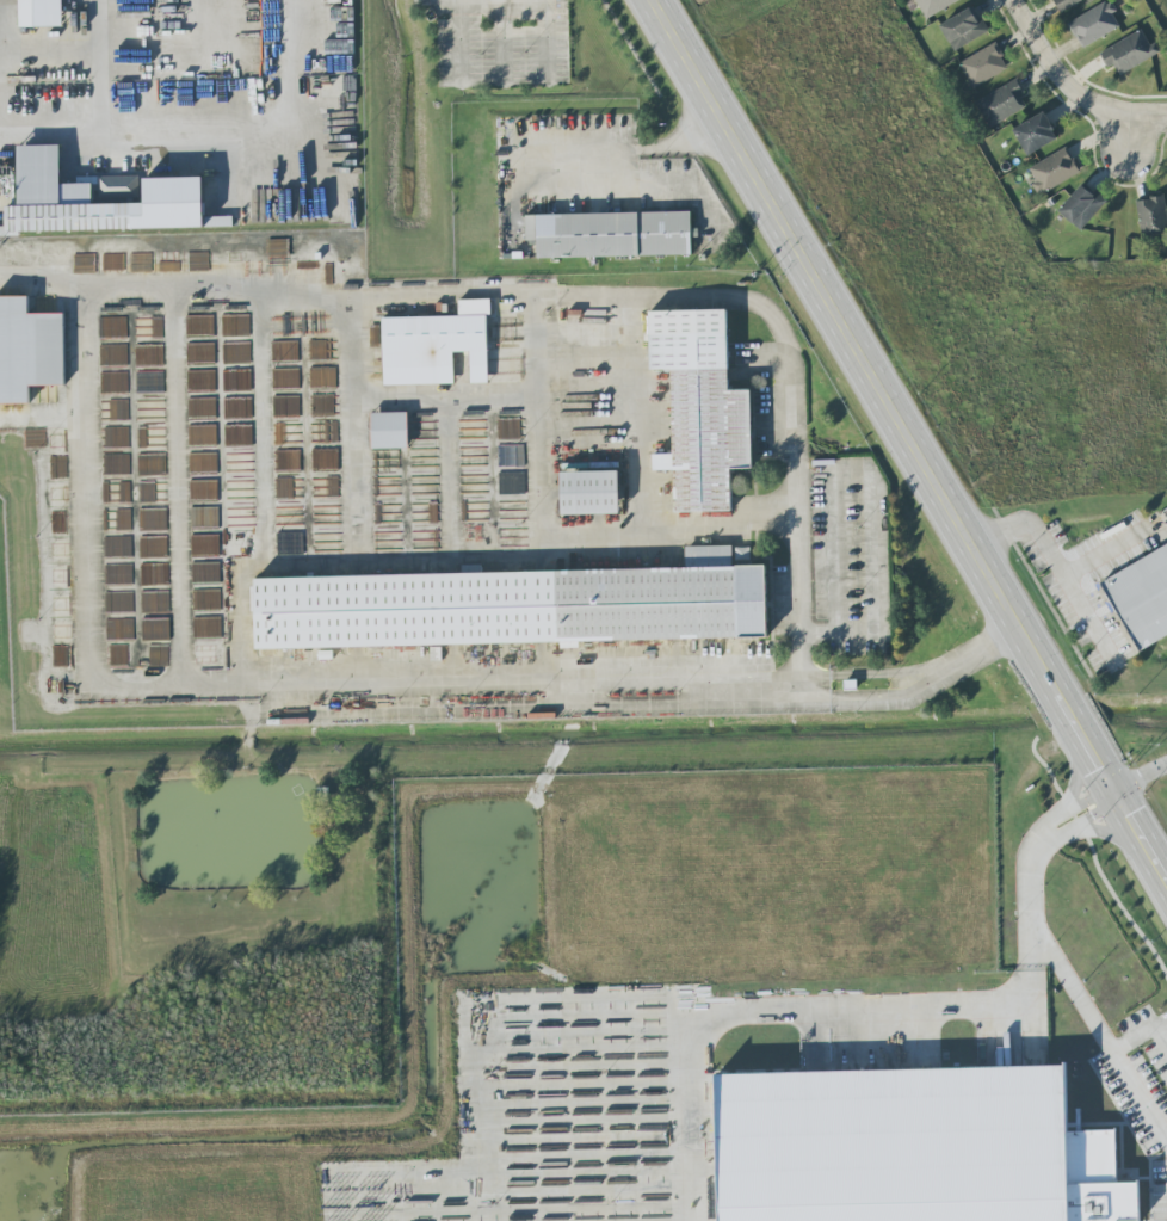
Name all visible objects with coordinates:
road: (544, 1)
building: (1066, 4)
building: (934, 5)
building: (42, 13)
building: (1094, 24)
building: (963, 29)
building: (1129, 53)
building: (984, 64)
road: (1054, 73)
building: (1001, 104)
road: (1147, 115)
building: (1036, 134)
road: (186, 136)
road: (636, 152)
building: (1052, 169)
building: (99, 199)
building: (1082, 206)
building: (1153, 216)
building: (218, 221)
building: (611, 234)
road: (43, 278)
road: (86, 316)
building: (105, 325)
building: (436, 346)
building: (29, 350)
road: (630, 394)
road: (442, 401)
building: (702, 408)
building: (390, 430)
road: (909, 439)
road: (261, 471)
road: (446, 481)
road: (179, 487)
building: (204, 489)
building: (240, 491)
building: (589, 493)
building: (241, 518)
road: (548, 528)
road: (356, 536)
road: (1106, 550)
road: (1054, 565)
building: (1142, 597)
building: (518, 605)
road: (984, 649)
road: (873, 670)
road: (875, 697)
road: (1141, 778)
road: (1036, 851)
road: (1021, 985)
road: (743, 1006)
road: (1141, 1031)
road: (1099, 1032)
building: (901, 1142)

